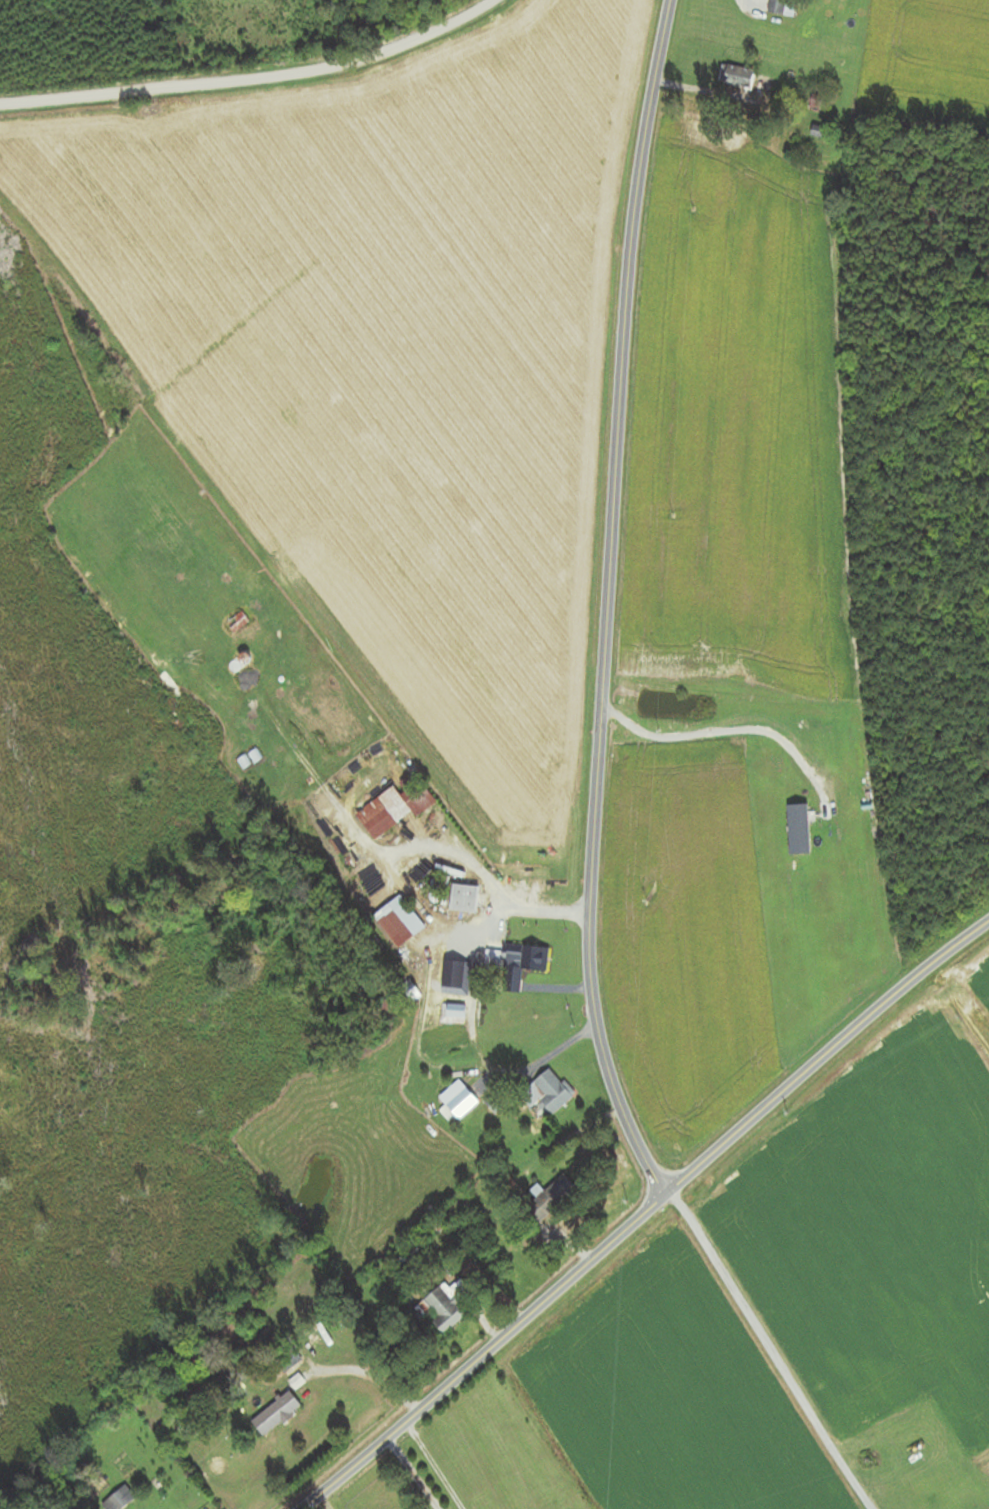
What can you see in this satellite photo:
building: (781, 7)
building: (735, 76)
road: (254, 80)
building: (227, 554)
building: (201, 574)
building: (172, 597)
road: (605, 601)
building: (236, 622)
building: (396, 807)
road: (483, 884)
building: (465, 898)
building: (400, 921)
building: (515, 963)
building: (454, 973)
building: (451, 1013)
road: (824, 1051)
building: (547, 1094)
building: (460, 1103)
building: (549, 1199)
building: (422, 1238)
building: (443, 1305)
road: (769, 1349)
road: (485, 1353)
road: (367, 1375)
building: (275, 1414)
building: (945, 1460)
road: (431, 1465)
building: (119, 1500)

